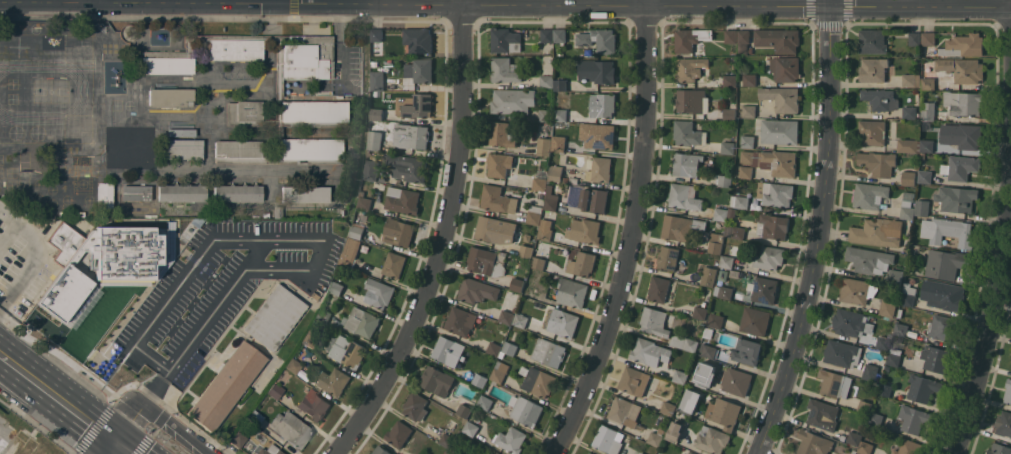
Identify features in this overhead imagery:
road: (85, 1)
road: (278, 2)
road: (828, 3)
road: (413, 4)
traffic signals: (828, 6)
road: (919, 6)
building: (377, 34)
building: (547, 35)
building: (561, 35)
building: (731, 35)
building: (690, 38)
building: (915, 38)
building: (929, 38)
building: (599, 39)
building: (778, 39)
building: (422, 40)
building: (505, 40)
building: (872, 40)
building: (744, 41)
building: (963, 45)
building: (233, 50)
building: (307, 57)
building: (374, 63)
building: (166, 65)
building: (690, 68)
building: (785, 68)
building: (962, 68)
building: (873, 69)
building: (423, 70)
building: (505, 70)
building: (597, 71)
building: (749, 79)
building: (911, 79)
building: (378, 80)
building: (730, 80)
building: (929, 80)
building: (546, 81)
building: (561, 84)
building: (170, 97)
building: (781, 97)
building: (880, 98)
building: (513, 100)
building: (692, 100)
building: (963, 102)
building: (417, 104)
building: (602, 104)
building: (748, 110)
building: (928, 110)
building: (730, 111)
building: (911, 112)
building: (243, 113)
building: (313, 113)
building: (377, 113)
building: (545, 114)
building: (560, 114)
building: (780, 131)
building: (872, 132)
building: (688, 133)
building: (501, 134)
building: (411, 135)
building: (598, 135)
building: (967, 136)
building: (375, 140)
building: (748, 140)
building: (543, 142)
building: (559, 143)
building: (909, 144)
building: (926, 144)
building: (727, 146)
building: (121, 149)
building: (137, 149)
building: (182, 149)
building: (311, 151)
building: (240, 153)
building: (922, 155)
building: (772, 161)
building: (877, 163)
building: (686, 164)
building: (500, 165)
building: (406, 167)
building: (960, 167)
building: (599, 168)
building: (371, 169)
building: (745, 171)
building: (556, 172)
building: (925, 176)
building: (909, 177)
building: (540, 179)
building: (570, 179)
building: (725, 180)
building: (362, 192)
building: (135, 193)
building: (181, 193)
building: (237, 193)
building: (775, 193)
building: (58, 194)
building: (82, 194)
building: (541, 194)
building: (104, 195)
building: (305, 195)
building: (684, 196)
building: (871, 196)
building: (551, 198)
building: (956, 198)
building: (402, 199)
building: (497, 199)
building: (594, 199)
building: (739, 201)
building: (364, 202)
building: (907, 205)
building: (922, 207)
building: (277, 212)
building: (534, 214)
building: (720, 214)
building: (772, 225)
building: (681, 227)
building: (496, 229)
building: (358, 230)
building: (585, 230)
building: (947, 230)
building: (398, 231)
building: (735, 231)
building: (877, 232)
building: (546, 233)
road: (632, 233)
road: (817, 233)
building: (527, 237)
road: (442, 239)
road: (315, 240)
building: (63, 242)
building: (715, 242)
building: (526, 250)
building: (350, 252)
road: (256, 255)
building: (668, 257)
building: (769, 257)
road: (36, 258)
building: (868, 258)
building: (484, 261)
building: (727, 261)
building: (538, 262)
building: (582, 263)
building: (946, 263)
building: (393, 264)
building: (723, 274)
building: (708, 275)
building: (895, 276)
building: (873, 281)
building: (517, 283)
building: (337, 288)
building: (659, 288)
building: (763, 289)
building: (476, 290)
building: (857, 290)
building: (572, 292)
building: (725, 292)
building: (379, 293)
building: (538, 293)
building: (908, 294)
building: (942, 294)
building: (314, 296)
building: (887, 307)
building: (700, 312)
building: (324, 315)
building: (506, 316)
building: (274, 317)
building: (520, 319)
building: (460, 320)
building: (716, 320)
building: (754, 320)
building: (361, 321)
building: (655, 321)
building: (561, 322)
building: (851, 323)
road: (986, 324)
building: (942, 327)
building: (902, 329)
building: (708, 332)
building: (699, 336)
building: (310, 341)
building: (684, 342)
building: (882, 342)
building: (510, 348)
building: (495, 349)
building: (346, 350)
building: (448, 350)
building: (549, 351)
building: (709, 351)
building: (747, 351)
building: (650, 352)
building: (842, 353)
building: (502, 354)
building: (894, 356)
building: (936, 358)
road: (87, 364)
building: (294, 366)
building: (887, 368)
building: (500, 371)
building: (870, 371)
building: (680, 376)
building: (334, 380)
building: (436, 380)
building: (480, 380)
building: (635, 380)
building: (537, 381)
building: (702, 381)
building: (736, 381)
building: (494, 382)
building: (835, 383)
road: (60, 385)
building: (226, 386)
building: (922, 387)
building: (885, 389)
building: (275, 391)
building: (1007, 391)
building: (669, 398)
building: (691, 401)
building: (485, 402)
building: (312, 404)
road: (117, 405)
building: (415, 406)
building: (865, 406)
building: (668, 408)
building: (464, 410)
building: (525, 410)
building: (624, 411)
road: (53, 412)
building: (724, 412)
building: (821, 412)
road: (130, 417)
building: (255, 418)
building: (913, 418)
building: (876, 419)
building: (1003, 423)
building: (450, 424)
building: (675, 427)
building: (471, 428)
road: (172, 429)
building: (291, 429)
traffic signals: (122, 431)
building: (399, 433)
building: (854, 437)
building: (655, 438)
building: (510, 439)
building: (609, 439)
building: (712, 439)
building: (447, 440)
building: (238, 441)
road: (114, 442)
road: (136, 442)
building: (813, 443)
building: (866, 447)
building: (909, 447)
building: (999, 449)
building: (270, 450)
building: (380, 450)
building: (447, 451)
building: (455, 451)
building: (853, 451)
traffic signals: (106, 453)
building: (254, 453)
building: (495, 453)
building: (498, 453)
building: (586, 453)
building: (591, 453)
building: (639, 453)
building: (642, 453)
building: (681, 453)
building: (687, 453)
building: (691, 453)
building: (860, 453)

